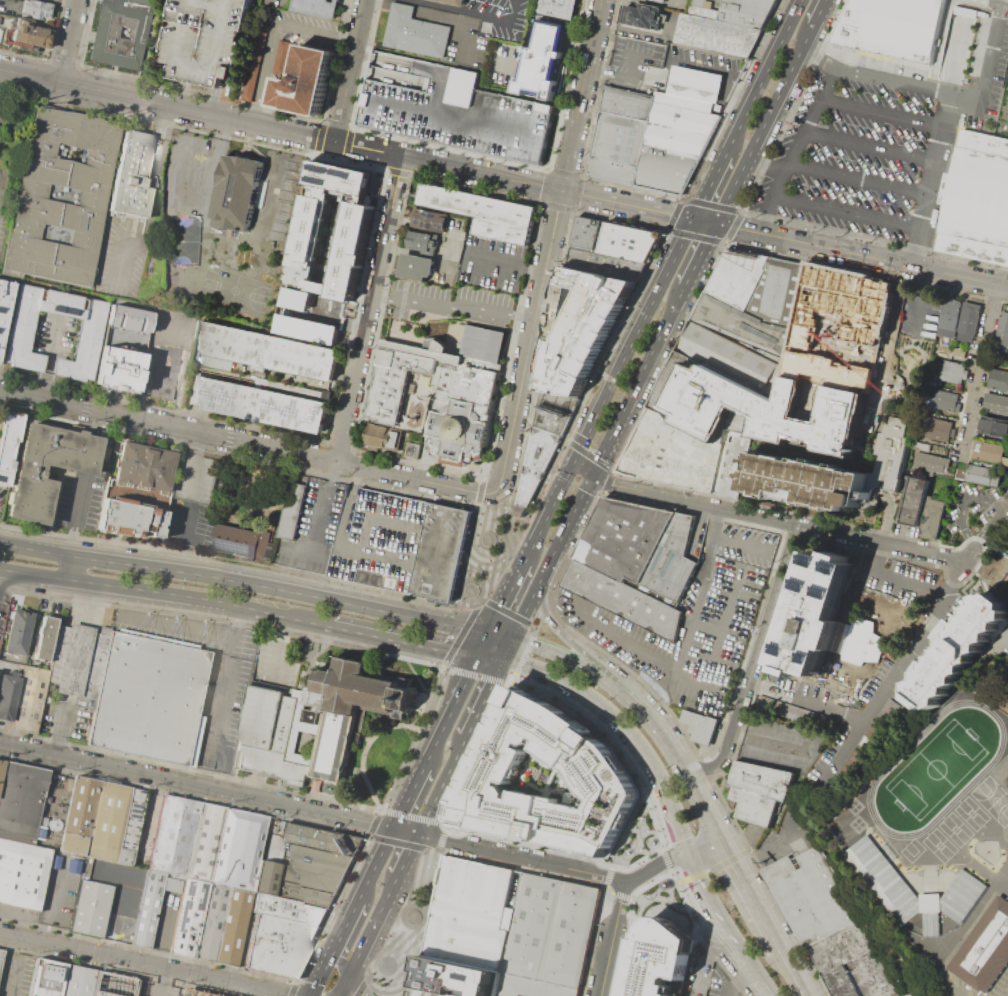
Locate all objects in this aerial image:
building: (658, 0)
road: (269, 1)
building: (452, 2)
road: (665, 2)
road: (9, 4)
road: (60, 4)
building: (134, 4)
building: (317, 7)
building: (35, 8)
building: (555, 8)
building: (747, 11)
road: (440, 12)
road: (472, 12)
road: (820, 12)
building: (643, 14)
parking lot: (500, 17)
building: (892, 26)
parking lot: (304, 29)
road: (272, 30)
building: (414, 32)
road: (644, 33)
building: (716, 34)
building: (30, 35)
building: (120, 36)
building: (205, 40)
parking lot: (205, 40)
road: (70, 41)
building: (978, 45)
building: (282, 57)
road: (668, 59)
building: (541, 60)
road: (990, 61)
road: (631, 62)
parking lot: (665, 63)
road: (418, 65)
road: (352, 70)
road: (764, 75)
building: (303, 83)
building: (689, 89)
building: (247, 90)
road: (176, 94)
road: (583, 95)
road: (730, 99)
road: (211, 101)
building: (628, 104)
road: (948, 104)
road: (793, 105)
road: (168, 106)
building: (452, 109)
parking lot: (452, 109)
road: (450, 112)
road: (880, 113)
road: (765, 124)
parking lot: (879, 141)
road: (868, 145)
building: (674, 146)
building: (619, 147)
road: (793, 147)
road: (449, 165)
road: (159, 169)
building: (133, 177)
road: (857, 178)
parking lot: (7, 185)
road: (710, 185)
traffic signals: (561, 190)
building: (238, 195)
building: (63, 196)
building: (978, 199)
road: (712, 204)
road: (638, 207)
building: (484, 212)
road: (673, 213)
road: (844, 214)
building: (434, 219)
traffic signals: (694, 219)
traffic signals: (716, 224)
road: (733, 226)
building: (333, 229)
building: (588, 233)
road: (695, 236)
building: (422, 240)
building: (628, 241)
road: (120, 252)
road: (701, 255)
road: (861, 255)
road: (503, 263)
parking lot: (492, 264)
building: (605, 265)
building: (418, 266)
building: (740, 276)
road: (179, 282)
park: (236, 290)
building: (780, 290)
building: (297, 299)
road: (923, 301)
parking lot: (449, 302)
building: (4, 306)
road: (453, 306)
road: (369, 308)
building: (949, 318)
building: (129, 319)
road: (338, 320)
building: (968, 321)
building: (746, 325)
building: (583, 328)
building: (1002, 328)
building: (309, 329)
road: (893, 331)
building: (89, 336)
road: (530, 339)
road: (635, 339)
road: (914, 339)
road: (912, 345)
building: (268, 350)
building: (959, 352)
road: (148, 353)
building: (936, 353)
building: (1006, 355)
road: (669, 356)
road: (48, 357)
building: (733, 359)
building: (216, 362)
building: (120, 369)
building: (796, 371)
building: (952, 371)
road: (979, 371)
building: (166, 373)
road: (639, 378)
building: (998, 380)
building: (447, 389)
road: (904, 392)
building: (313, 393)
building: (945, 401)
building: (258, 402)
building: (996, 404)
building: (554, 410)
road: (574, 415)
road: (95, 423)
building: (993, 425)
building: (939, 430)
building: (386, 437)
road: (564, 439)
road: (247, 443)
building: (8, 445)
building: (922, 446)
building: (414, 449)
building: (888, 452)
building: (986, 453)
road: (89, 454)
building: (673, 454)
road: (588, 455)
traffic signals: (575, 460)
building: (1004, 461)
building: (931, 462)
road: (195, 464)
building: (535, 464)
building: (733, 464)
road: (584, 466)
building: (144, 467)
traffic signals: (594, 472)
building: (806, 473)
building: (28, 474)
building: (960, 474)
building: (982, 475)
parking lot: (196, 476)
road: (608, 481)
parking lot: (2, 497)
road: (979, 499)
parking lot: (80, 501)
building: (912, 501)
road: (550, 509)
building: (293, 510)
road: (315, 511)
road: (512, 512)
road: (78, 514)
building: (129, 518)
road: (888, 519)
building: (932, 519)
road: (776, 520)
road: (569, 521)
parking lot: (189, 523)
parking lot: (315, 530)
road: (182, 537)
building: (244, 539)
building: (381, 539)
parking lot: (381, 539)
road: (738, 543)
road: (12, 544)
road: (491, 544)
building: (444, 552)
road: (968, 553)
road: (382, 554)
road: (878, 559)
road: (116, 562)
road: (70, 567)
building: (641, 567)
road: (959, 567)
road: (34, 573)
parking lot: (899, 580)
road: (513, 584)
road: (910, 586)
road: (154, 592)
road: (474, 602)
road: (349, 603)
road: (528, 604)
road: (550, 605)
road: (944, 605)
road: (543, 611)
road: (270, 612)
road: (505, 612)
road: (727, 614)
road: (581, 615)
road: (495, 622)
building: (825, 622)
road: (235, 623)
road: (537, 623)
parking lot: (693, 623)
road: (532, 625)
road: (707, 627)
road: (534, 630)
building: (19, 634)
traffic signals: (490, 634)
road: (458, 636)
road: (501, 636)
road: (580, 637)
building: (44, 638)
traffic signals: (512, 639)
road: (569, 640)
road: (401, 641)
road: (229, 645)
road: (484, 645)
road: (277, 649)
road: (507, 650)
road: (682, 651)
building: (957, 652)
traffic signals: (478, 657)
road: (521, 657)
road: (565, 657)
road: (754, 660)
building: (80, 661)
road: (424, 661)
traffic signals: (502, 662)
road: (510, 664)
road: (473, 674)
road: (418, 678)
road: (692, 679)
road: (507, 682)
road: (461, 692)
parking lot: (222, 694)
building: (6, 695)
building: (149, 698)
building: (32, 699)
road: (484, 699)
parking lot: (800, 702)
road: (815, 702)
building: (352, 709)
road: (873, 712)
parking lot: (66, 717)
road: (657, 723)
building: (699, 725)
road: (59, 727)
building: (274, 733)
road: (627, 735)
road: (415, 739)
road: (609, 744)
road: (774, 744)
parking lot: (783, 745)
road: (434, 746)
road: (363, 749)
road: (471, 752)
road: (4, 763)
building: (1, 765)
road: (705, 766)
track: (887, 771)
building: (544, 780)
building: (1007, 784)
road: (442, 785)
road: (209, 788)
building: (756, 791)
road: (409, 796)
road: (637, 796)
park: (993, 798)
building: (21, 800)
road: (704, 806)
road: (150, 811)
road: (396, 813)
park: (971, 815)
building: (93, 819)
building: (130, 827)
road: (445, 828)
road: (624, 828)
park: (957, 830)
building: (173, 837)
building: (322, 839)
road: (440, 839)
traffic signals: (720, 839)
road: (775, 841)
road: (396, 842)
building: (204, 844)
road: (704, 845)
park: (941, 845)
road: (426, 846)
road: (552, 849)
road: (431, 850)
road: (747, 850)
building: (238, 851)
traffic signals: (688, 852)
road: (408, 855)
road: (665, 858)
building: (319, 861)
road: (376, 863)
road: (555, 864)
road: (521, 867)
road: (610, 867)
road: (712, 867)
building: (22, 874)
road: (607, 876)
building: (884, 878)
building: (265, 879)
building: (309, 879)
road: (659, 881)
road: (676, 882)
road: (766, 884)
road: (671, 885)
road: (663, 887)
parking lot: (60, 889)
road: (747, 889)
road: (704, 891)
road: (609, 892)
building: (807, 894)
parking lot: (117, 895)
building: (303, 895)
road: (619, 895)
road: (126, 897)
road: (659, 897)
road: (629, 898)
road: (56, 902)
road: (660, 903)
building: (90, 909)
road: (331, 909)
building: (147, 910)
road: (664, 910)
building: (288, 911)
road: (638, 911)
parking lot: (166, 914)
building: (470, 915)
building: (188, 919)
road: (376, 919)
building: (211, 923)
road: (632, 923)
road: (347, 924)
road: (397, 924)
building: (234, 929)
road: (164, 930)
building: (551, 931)
road: (685, 932)
road: (961, 933)
road: (611, 937)
road: (696, 937)
road: (592, 939)
building: (277, 947)
building: (0, 950)
building: (986, 953)
building: (1, 957)
building: (658, 959)
road: (744, 962)
building: (850, 962)
road: (339, 964)
road: (144, 965)
road: (17, 967)
road: (791, 968)
road: (351, 970)
road: (323, 972)
parking lot: (15, 974)
road: (369, 976)
building: (45, 979)
building: (455, 979)
road: (733, 981)
building: (77, 982)
parking lot: (720, 984)
building: (112, 986)
road: (342, 986)
road: (355, 986)
parking lot: (954, 986)
road: (361, 987)
building: (530, 988)
parking lot: (1002, 988)
road: (292, 989)
building: (189, 993)
building: (426, 993)
parking lot: (521, 995)

